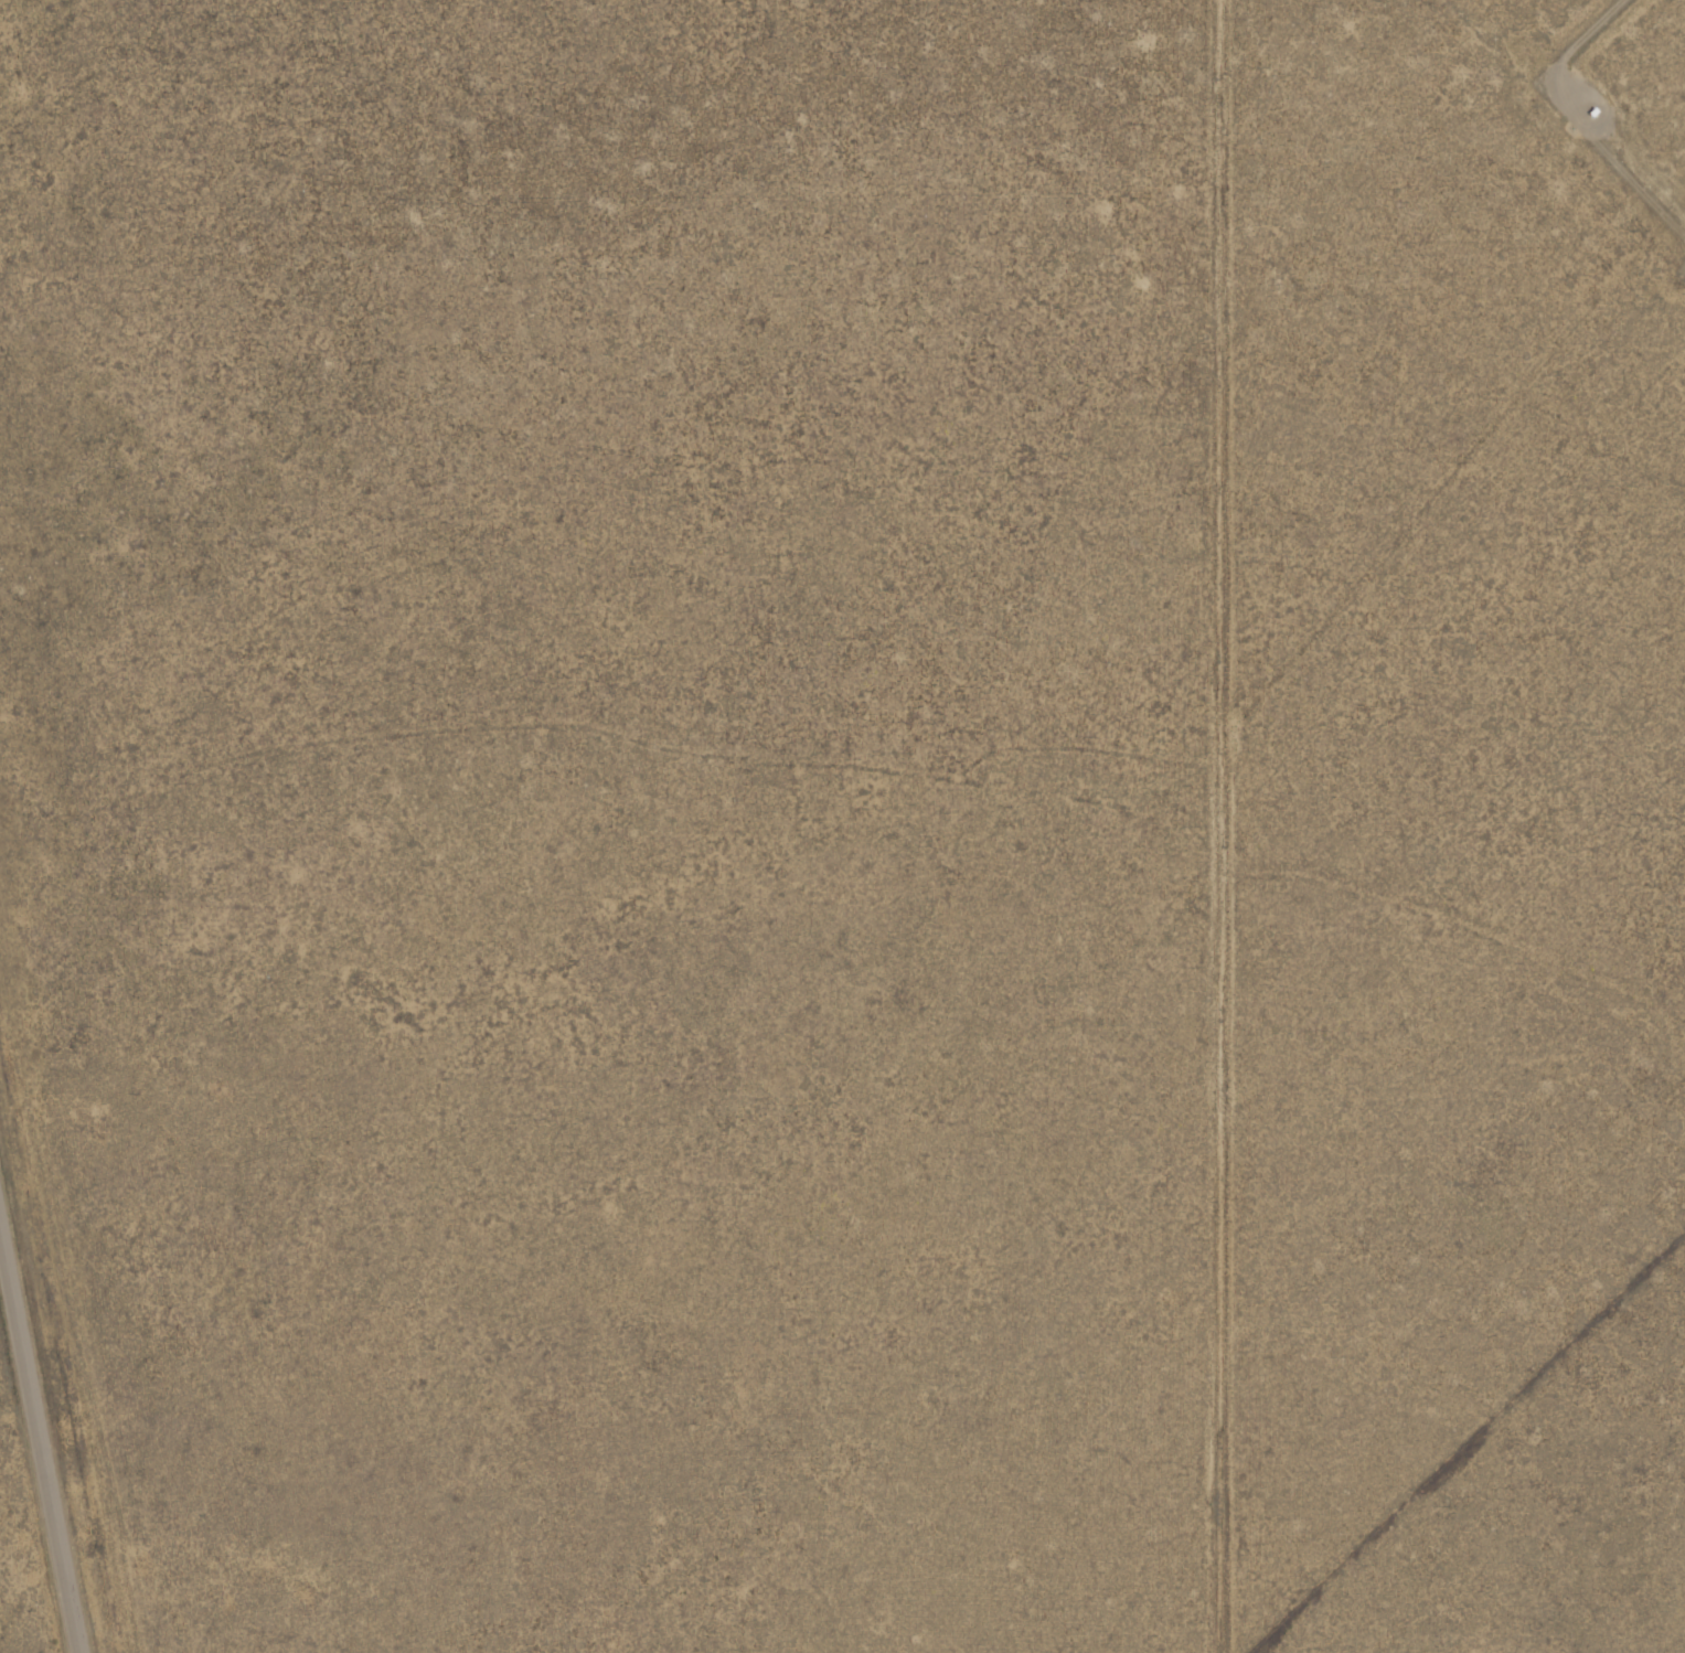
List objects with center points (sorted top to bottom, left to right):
airport: (1436, 745)
road: (38, 1451)

